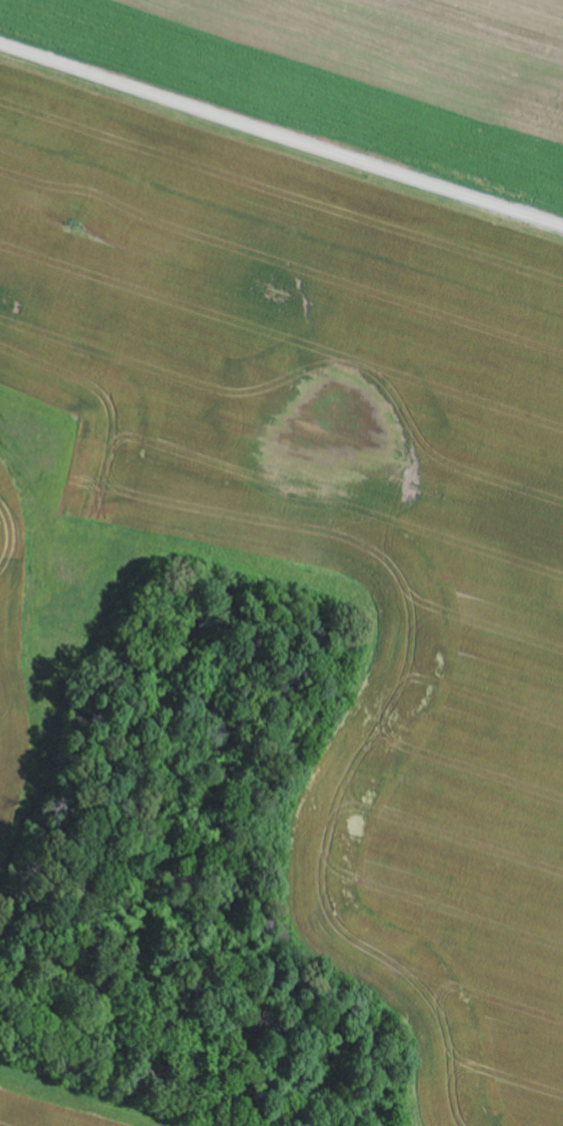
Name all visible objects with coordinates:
road: (280, 140)

